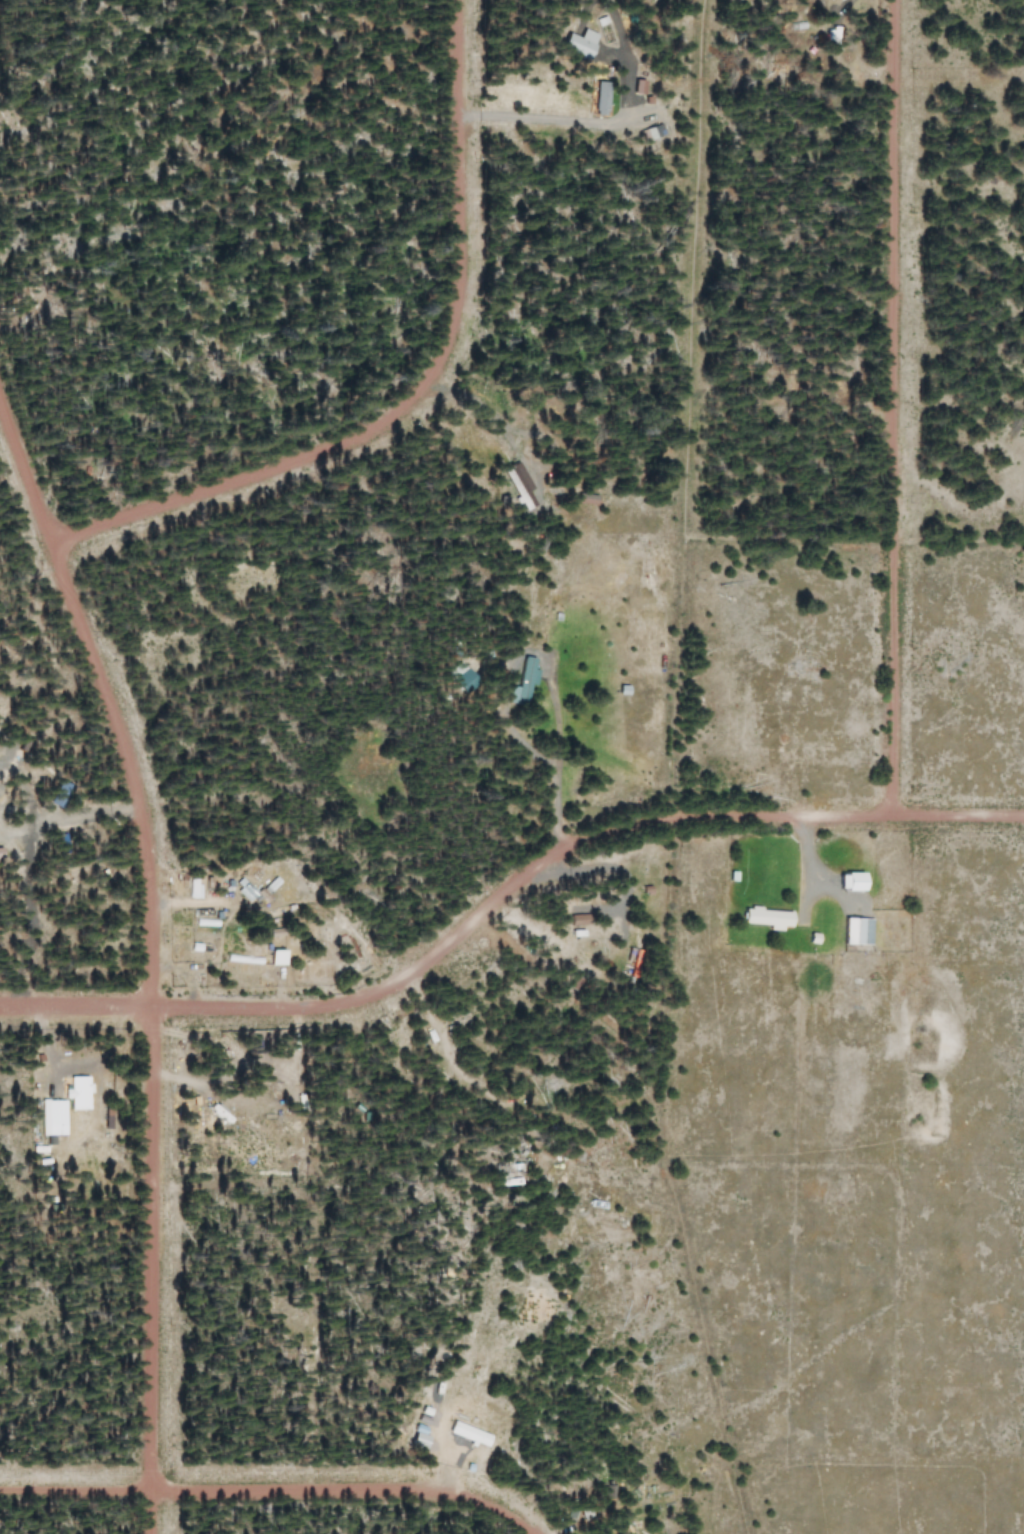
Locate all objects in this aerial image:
building: (575, 42)
building: (634, 86)
building: (597, 98)
building: (652, 131)
road: (417, 389)
road: (888, 406)
building: (519, 683)
road: (559, 756)
building: (848, 881)
building: (191, 888)
road: (501, 888)
building: (242, 890)
building: (763, 917)
building: (854, 931)
building: (273, 957)
road: (147, 959)
building: (59, 1105)
building: (465, 1433)
road: (343, 1489)
road: (74, 1490)

